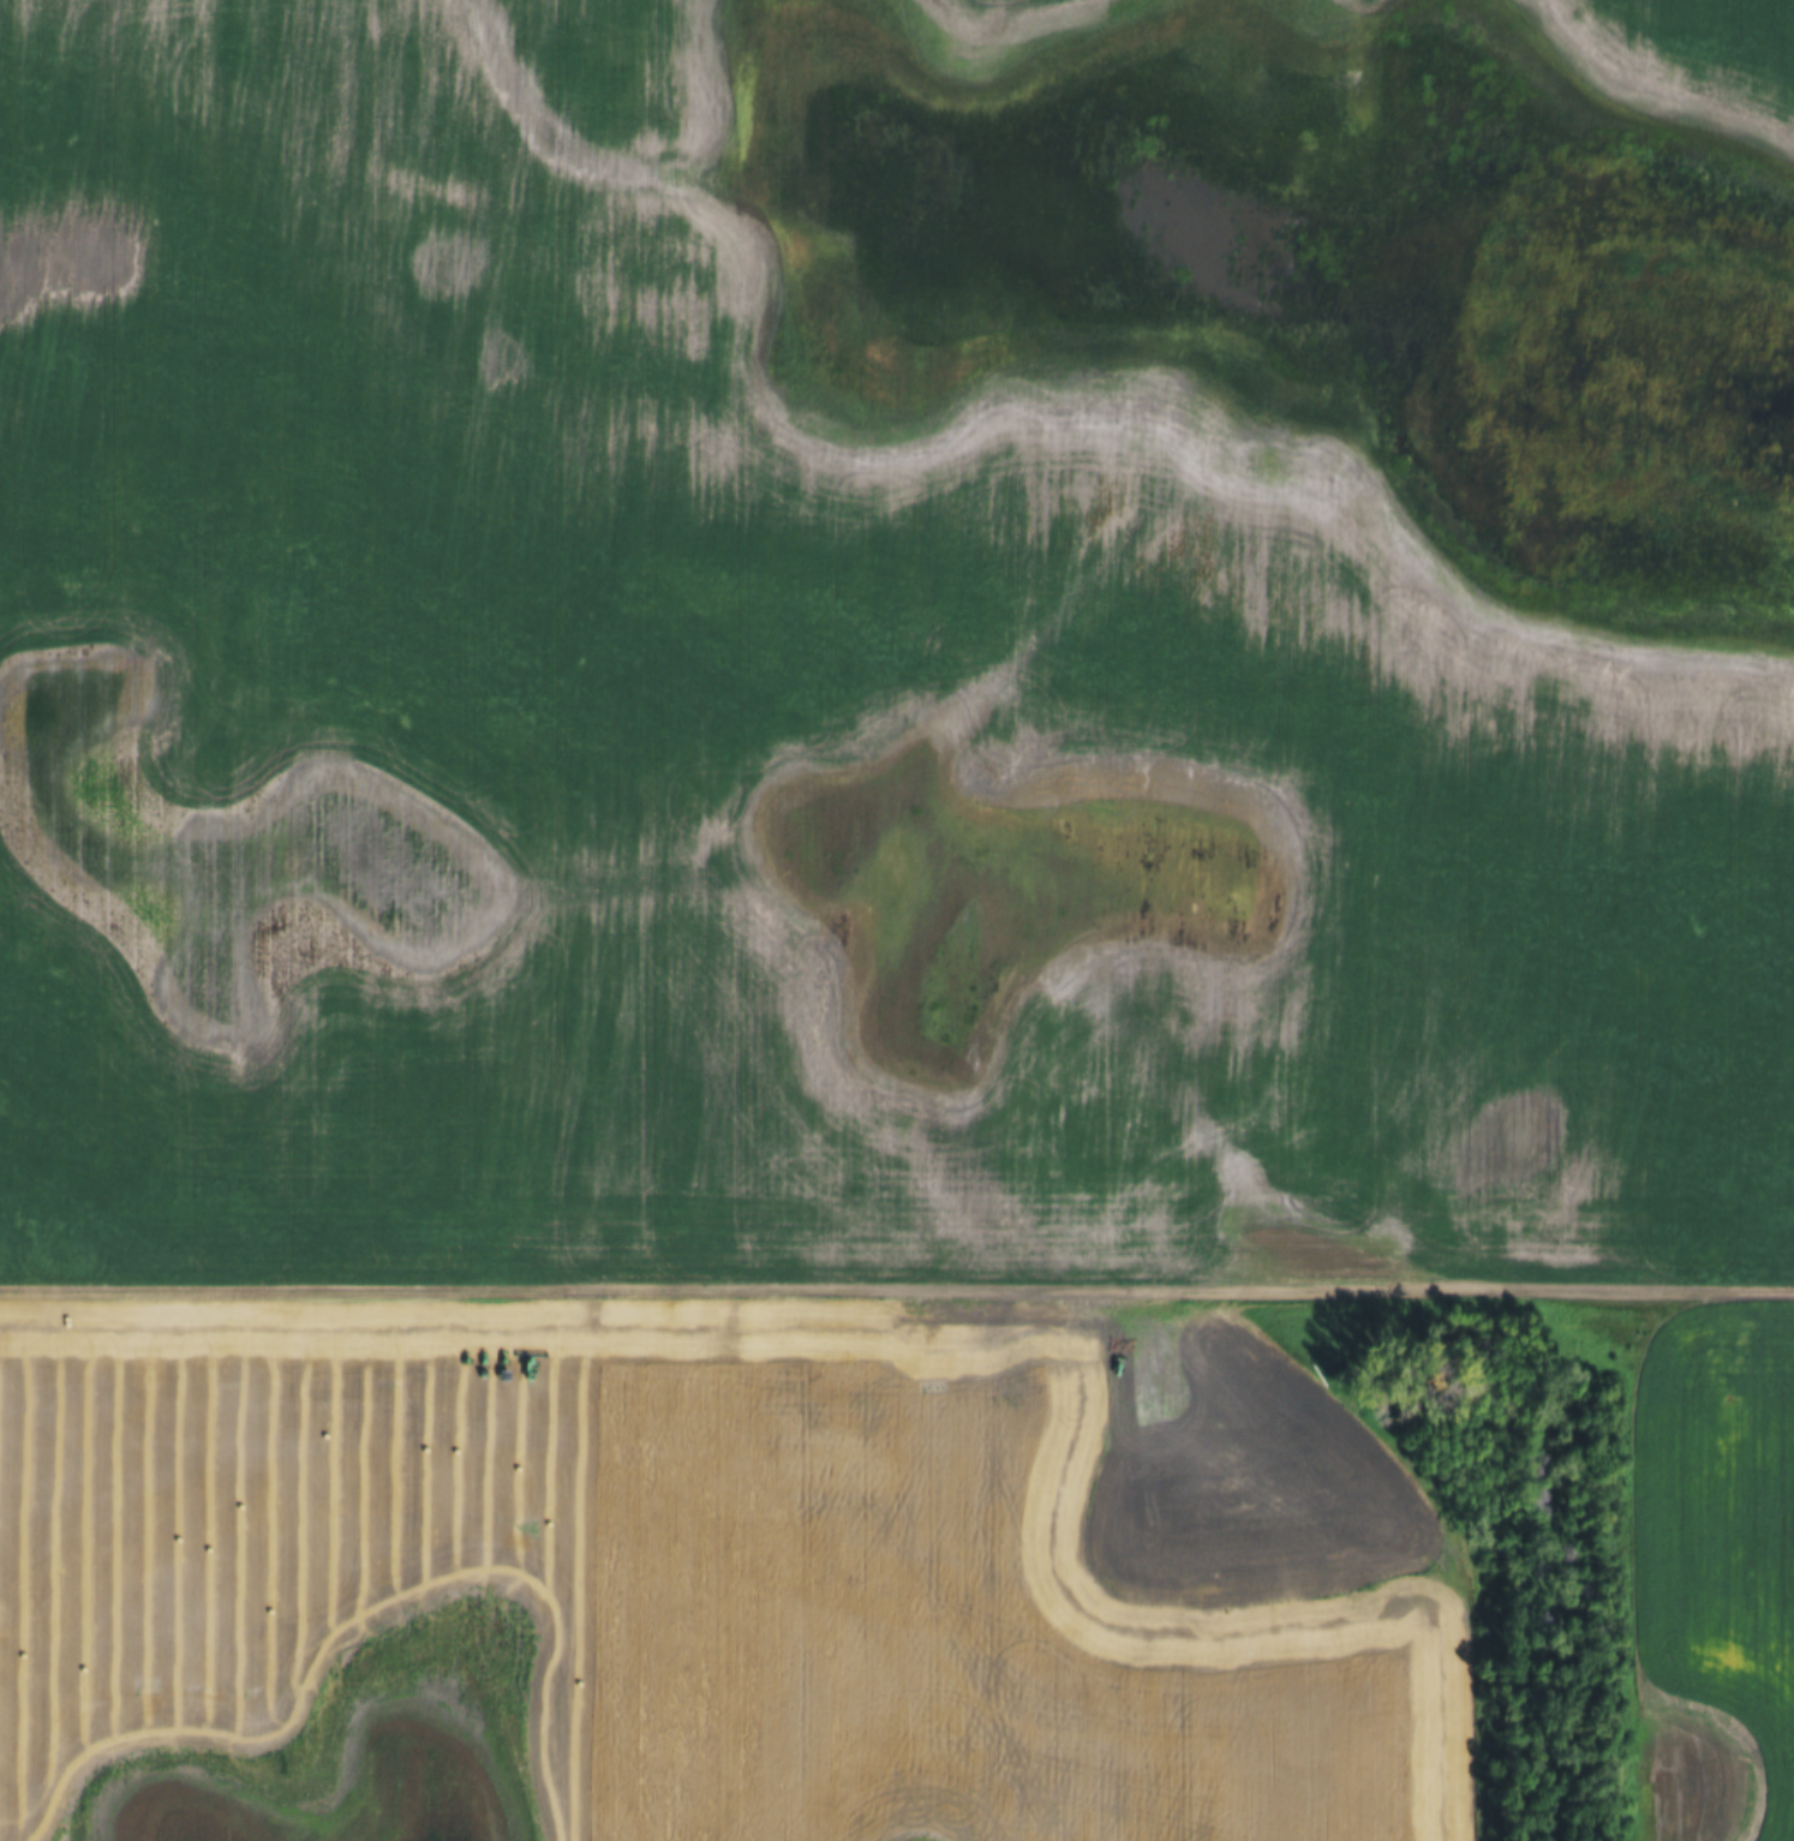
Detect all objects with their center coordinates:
road: (897, 1285)

